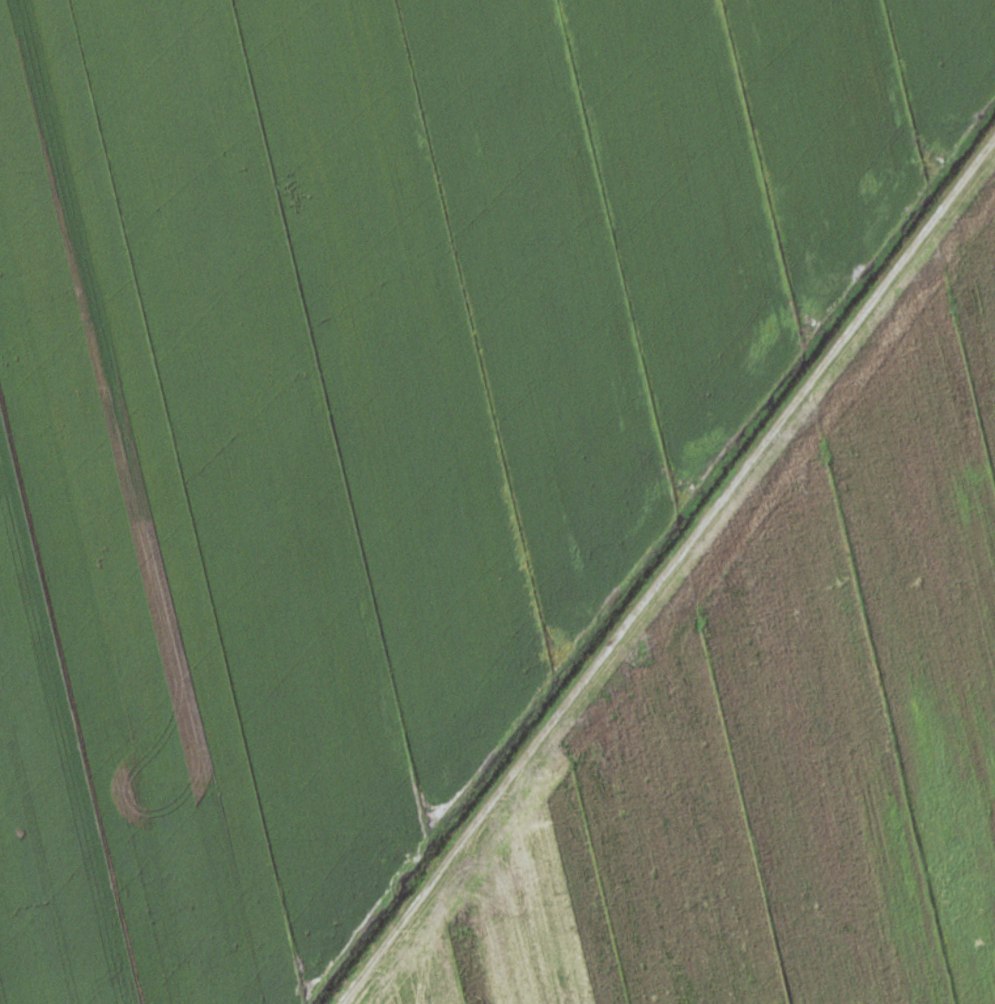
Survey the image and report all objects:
crop: (371, 409)
crop: (776, 717)

